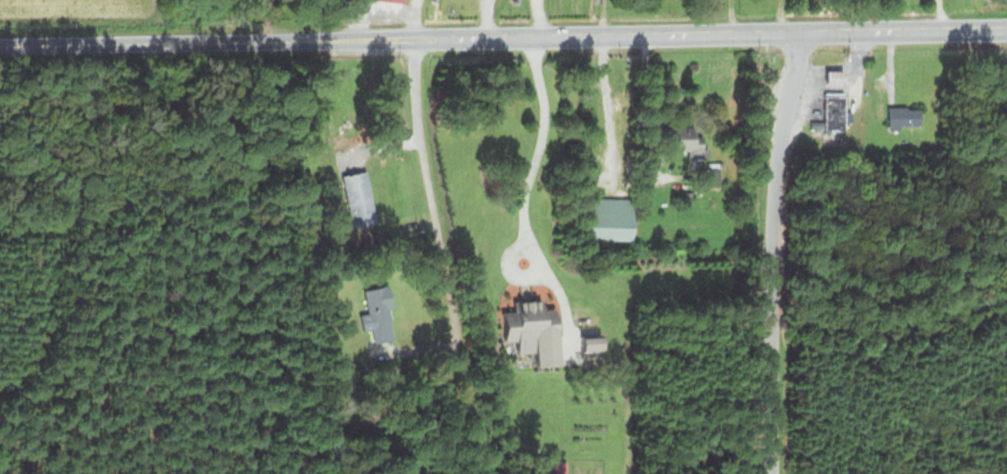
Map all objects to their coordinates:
road: (903, 32)
road: (399, 35)
building: (830, 110)
building: (900, 117)
building: (685, 141)
road: (522, 189)
building: (355, 198)
building: (605, 217)
road: (780, 254)
road: (451, 255)
building: (373, 313)
building: (499, 325)
building: (528, 332)

